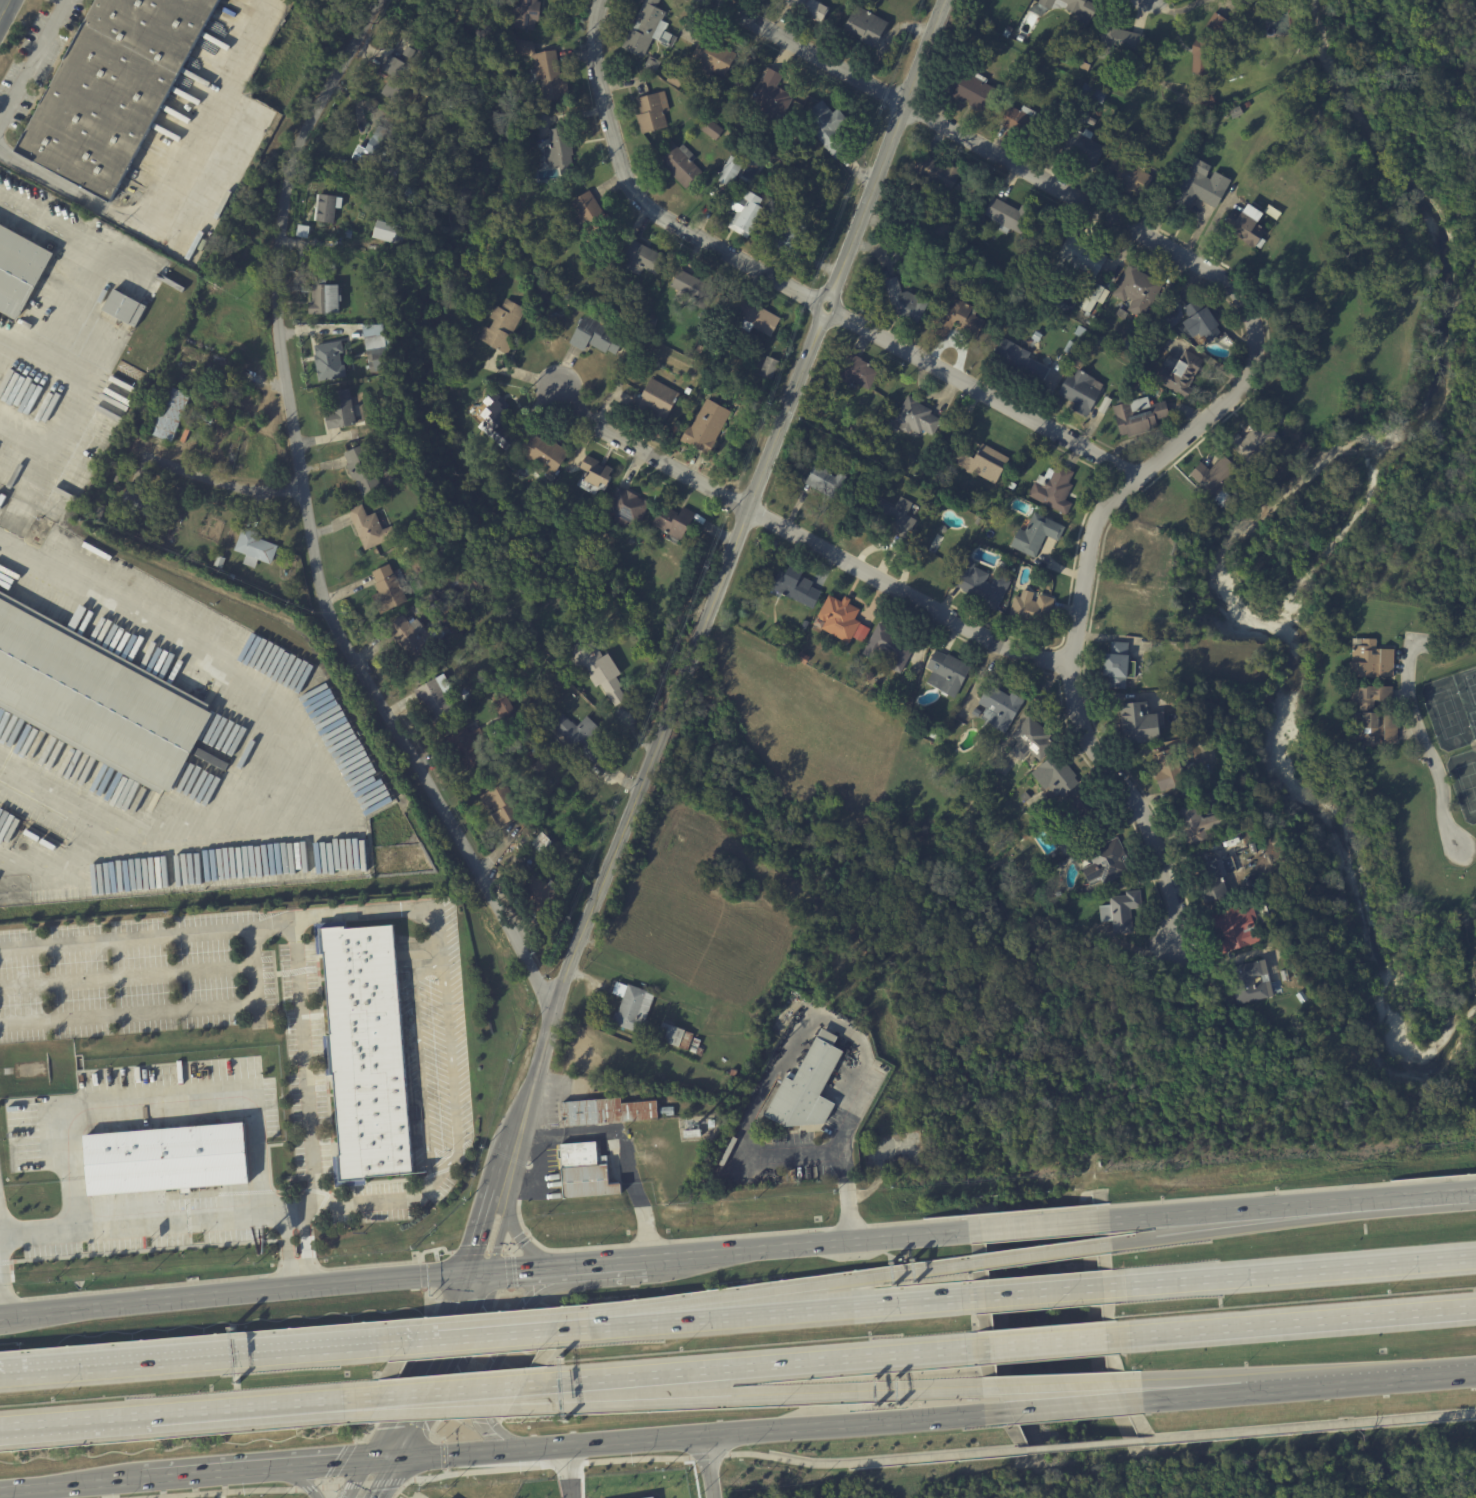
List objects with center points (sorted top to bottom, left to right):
building: (1046, 3)
road: (377, 4)
building: (817, 9)
building: (1078, 10)
building: (525, 13)
building: (864, 26)
building: (647, 30)
building: (1006, 31)
building: (1019, 38)
building: (1121, 39)
building: (1077, 42)
building: (1206, 45)
road: (807, 51)
road: (921, 51)
building: (1070, 57)
road: (33, 58)
road: (593, 58)
building: (711, 58)
parking lot: (34, 59)
building: (1085, 63)
building: (651, 65)
building: (541, 66)
building: (740, 77)
building: (674, 78)
building: (398, 79)
building: (969, 88)
building: (115, 90)
building: (1092, 93)
building: (771, 96)
building: (1205, 100)
building: (1247, 104)
building: (450, 105)
building: (1051, 107)
building: (554, 112)
building: (651, 112)
building: (1235, 112)
building: (1081, 117)
building: (1061, 119)
building: (1090, 121)
building: (1020, 123)
building: (824, 127)
building: (710, 130)
building: (263, 134)
building: (1127, 136)
building: (426, 137)
building: (1079, 145)
building: (558, 148)
building: (381, 155)
building: (412, 159)
building: (679, 165)
building: (729, 172)
building: (936, 173)
building: (1129, 176)
building: (825, 177)
road: (169, 182)
building: (1199, 186)
building: (328, 208)
building: (443, 209)
building: (743, 213)
building: (594, 217)
building: (1009, 217)
building: (935, 227)
building: (1246, 227)
building: (391, 232)
building: (349, 234)
building: (786, 236)
building: (153, 240)
building: (171, 247)
building: (643, 258)
building: (1076, 258)
building: (20, 269)
building: (982, 281)
building: (973, 283)
building: (601, 286)
building: (698, 290)
building: (1137, 291)
building: (1092, 297)
building: (325, 298)
building: (903, 301)
building: (1060, 302)
building: (125, 309)
building: (1121, 314)
road: (844, 316)
building: (758, 321)
building: (959, 321)
building: (1198, 321)
building: (504, 326)
building: (653, 327)
building: (1034, 336)
building: (599, 337)
building: (1098, 340)
building: (1129, 344)
building: (1068, 348)
building: (702, 352)
building: (379, 354)
building: (330, 362)
building: (1016, 362)
road: (42, 366)
building: (772, 368)
building: (854, 372)
building: (1179, 374)
road: (797, 379)
building: (689, 391)
building: (1080, 393)
building: (658, 400)
building: (342, 411)
building: (171, 414)
building: (1137, 416)
building: (208, 417)
building: (916, 418)
building: (501, 422)
building: (709, 427)
building: (847, 427)
building: (187, 432)
building: (390, 436)
road: (1181, 436)
building: (382, 437)
building: (1252, 440)
building: (547, 453)
building: (983, 464)
building: (366, 470)
building: (600, 473)
building: (1215, 477)
building: (389, 478)
building: (860, 479)
building: (823, 483)
road: (223, 484)
building: (1011, 486)
building: (1052, 490)
building: (142, 504)
building: (630, 506)
building: (101, 511)
building: (892, 517)
building: (991, 520)
building: (977, 521)
building: (677, 522)
road: (309, 527)
building: (371, 528)
building: (942, 529)
building: (652, 531)
building: (1034, 535)
road: (806, 538)
building: (933, 544)
building: (257, 547)
building: (221, 562)
building: (980, 586)
building: (794, 588)
building: (472, 589)
building: (390, 590)
building: (434, 598)
building: (1029, 610)
building: (835, 616)
building: (801, 624)
road: (1445, 636)
building: (413, 638)
building: (888, 646)
road: (1445, 649)
building: (799, 656)
building: (1370, 661)
building: (1114, 666)
road: (686, 669)
building: (601, 670)
building: (864, 674)
building: (945, 674)
building: (479, 687)
building: (1369, 696)
park: (1467, 696)
building: (97, 698)
building: (438, 698)
building: (541, 703)
building: (506, 708)
building: (998, 709)
park: (1443, 712)
building: (974, 713)
building: (1140, 724)
building: (1373, 730)
building: (581, 735)
building: (1028, 740)
road: (1426, 746)
building: (470, 748)
park: (1475, 748)
road: (284, 751)
building: (535, 755)
building: (210, 758)
building: (543, 762)
building: (1169, 771)
building: (1053, 778)
park: (1463, 781)
building: (504, 805)
building: (1080, 809)
building: (1068, 815)
building: (1192, 826)
building: (538, 843)
road: (1467, 850)
building: (556, 851)
building: (543, 859)
road: (67, 863)
building: (1103, 863)
building: (1213, 879)
building: (542, 898)
road: (390, 911)
building: (1119, 913)
building: (1231, 929)
road: (295, 963)
building: (1283, 975)
road: (566, 976)
building: (1249, 981)
building: (1301, 997)
building: (631, 1011)
road: (164, 1012)
road: (819, 1017)
building: (674, 1037)
parking lot: (438, 1039)
building: (696, 1048)
building: (368, 1053)
road: (418, 1062)
road: (450, 1075)
building: (807, 1087)
road: (161, 1107)
building: (604, 1112)
building: (667, 1112)
building: (165, 1158)
building: (584, 1173)
road: (1440, 1194)
road: (371, 1201)
road: (639, 1205)
road: (1254, 1209)
road: (146, 1225)
road: (1255, 1225)
road: (1033, 1226)
road: (522, 1238)
road: (808, 1245)
road: (1038, 1254)
road: (610, 1264)
road: (1287, 1270)
road: (517, 1271)
traffic signals: (469, 1275)
road: (780, 1290)
road: (1037, 1290)
road: (235, 1295)
road: (1, 1303)
road: (755, 1311)
road: (1, 1315)
road: (1295, 1320)
road: (466, 1335)
road: (1048, 1340)
road: (269, 1350)
road: (498, 1353)
road: (71, 1364)
road: (749, 1367)
road: (1376, 1378)
road: (1058, 1385)
road: (1204, 1385)
road: (418, 1387)
road: (1208, 1393)
road: (441, 1394)
road: (744, 1398)
road: (335, 1402)
road: (1064, 1405)
road: (330, 1409)
road: (1473, 1410)
road: (431, 1411)
road: (151, 1417)
road: (1312, 1424)
road: (689, 1433)
road: (1087, 1442)
traffic signals: (388, 1454)
road: (337, 1458)
road: (575, 1462)
road: (709, 1465)
road: (213, 1468)
road: (571, 1470)
road: (303, 1479)
road: (70, 1483)

